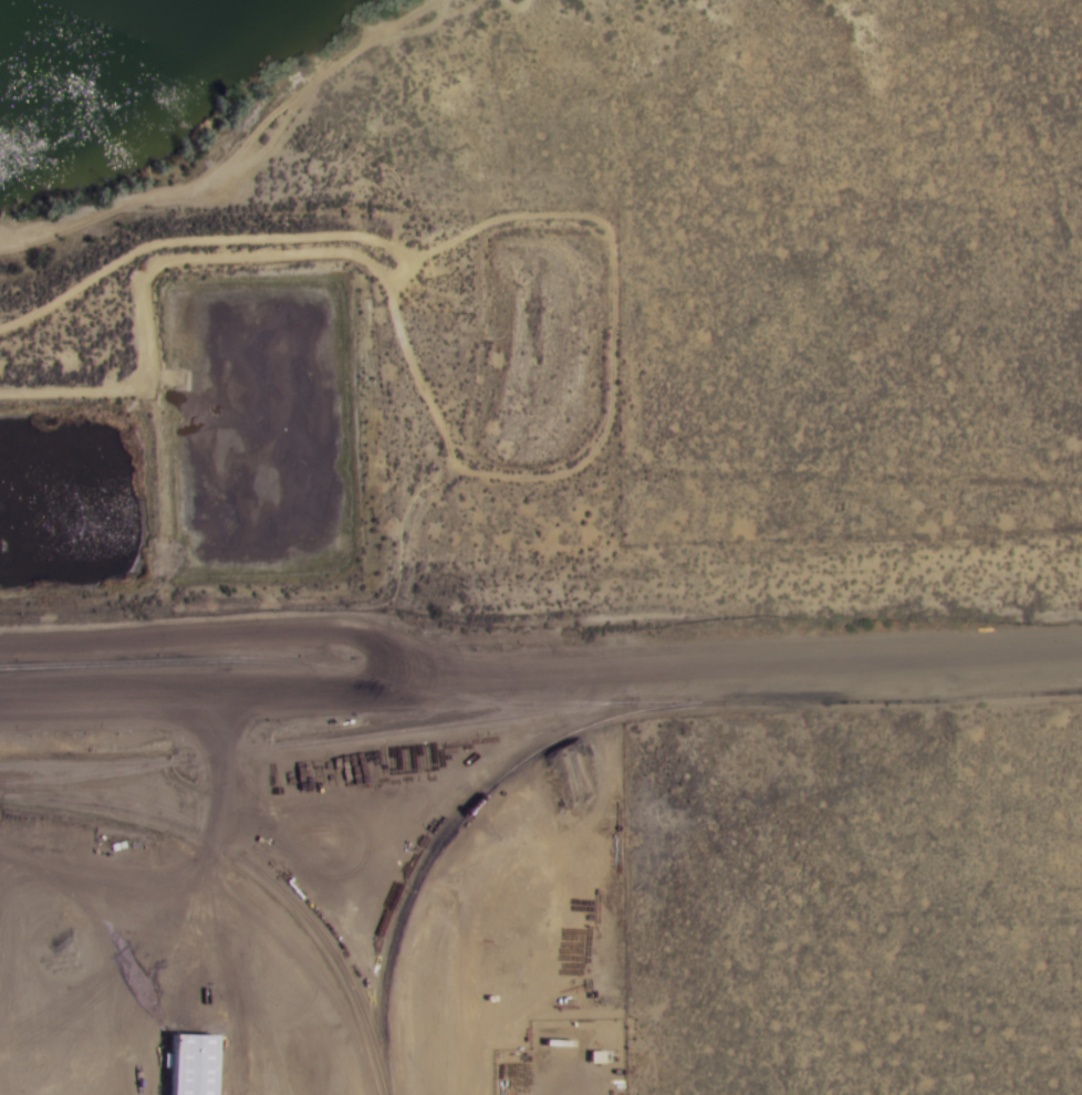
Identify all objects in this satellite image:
road: (541, 677)
railway: (539, 703)
railway: (314, 742)
railway: (94, 763)
railway: (462, 820)
railway: (253, 867)
power plant: (314, 878)
building: (194, 1065)

